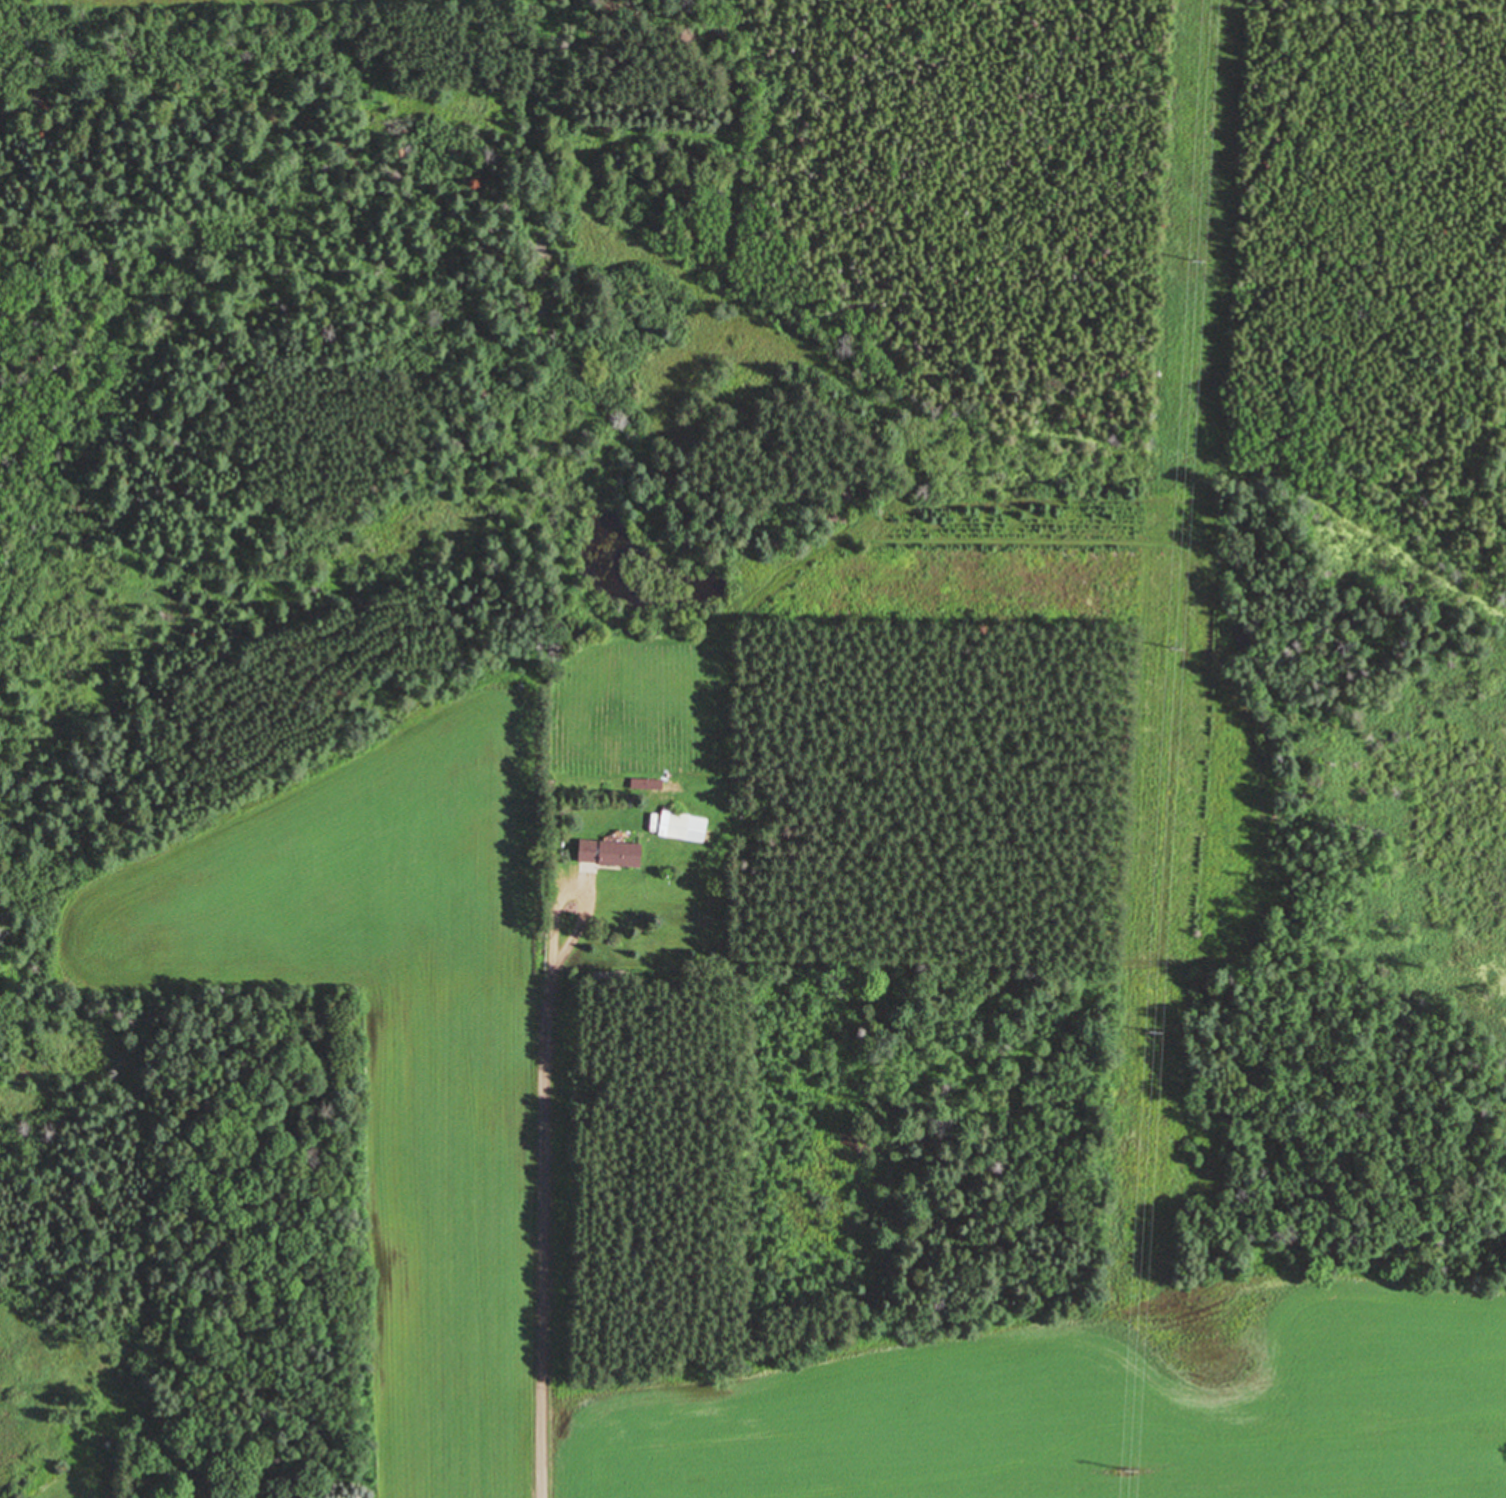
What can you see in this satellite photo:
power tower: (1196, 261)
power tower: (1176, 647)
building: (686, 827)
building: (614, 853)
power tower: (1153, 1032)
road: (543, 1227)
power tower: (1128, 1470)

